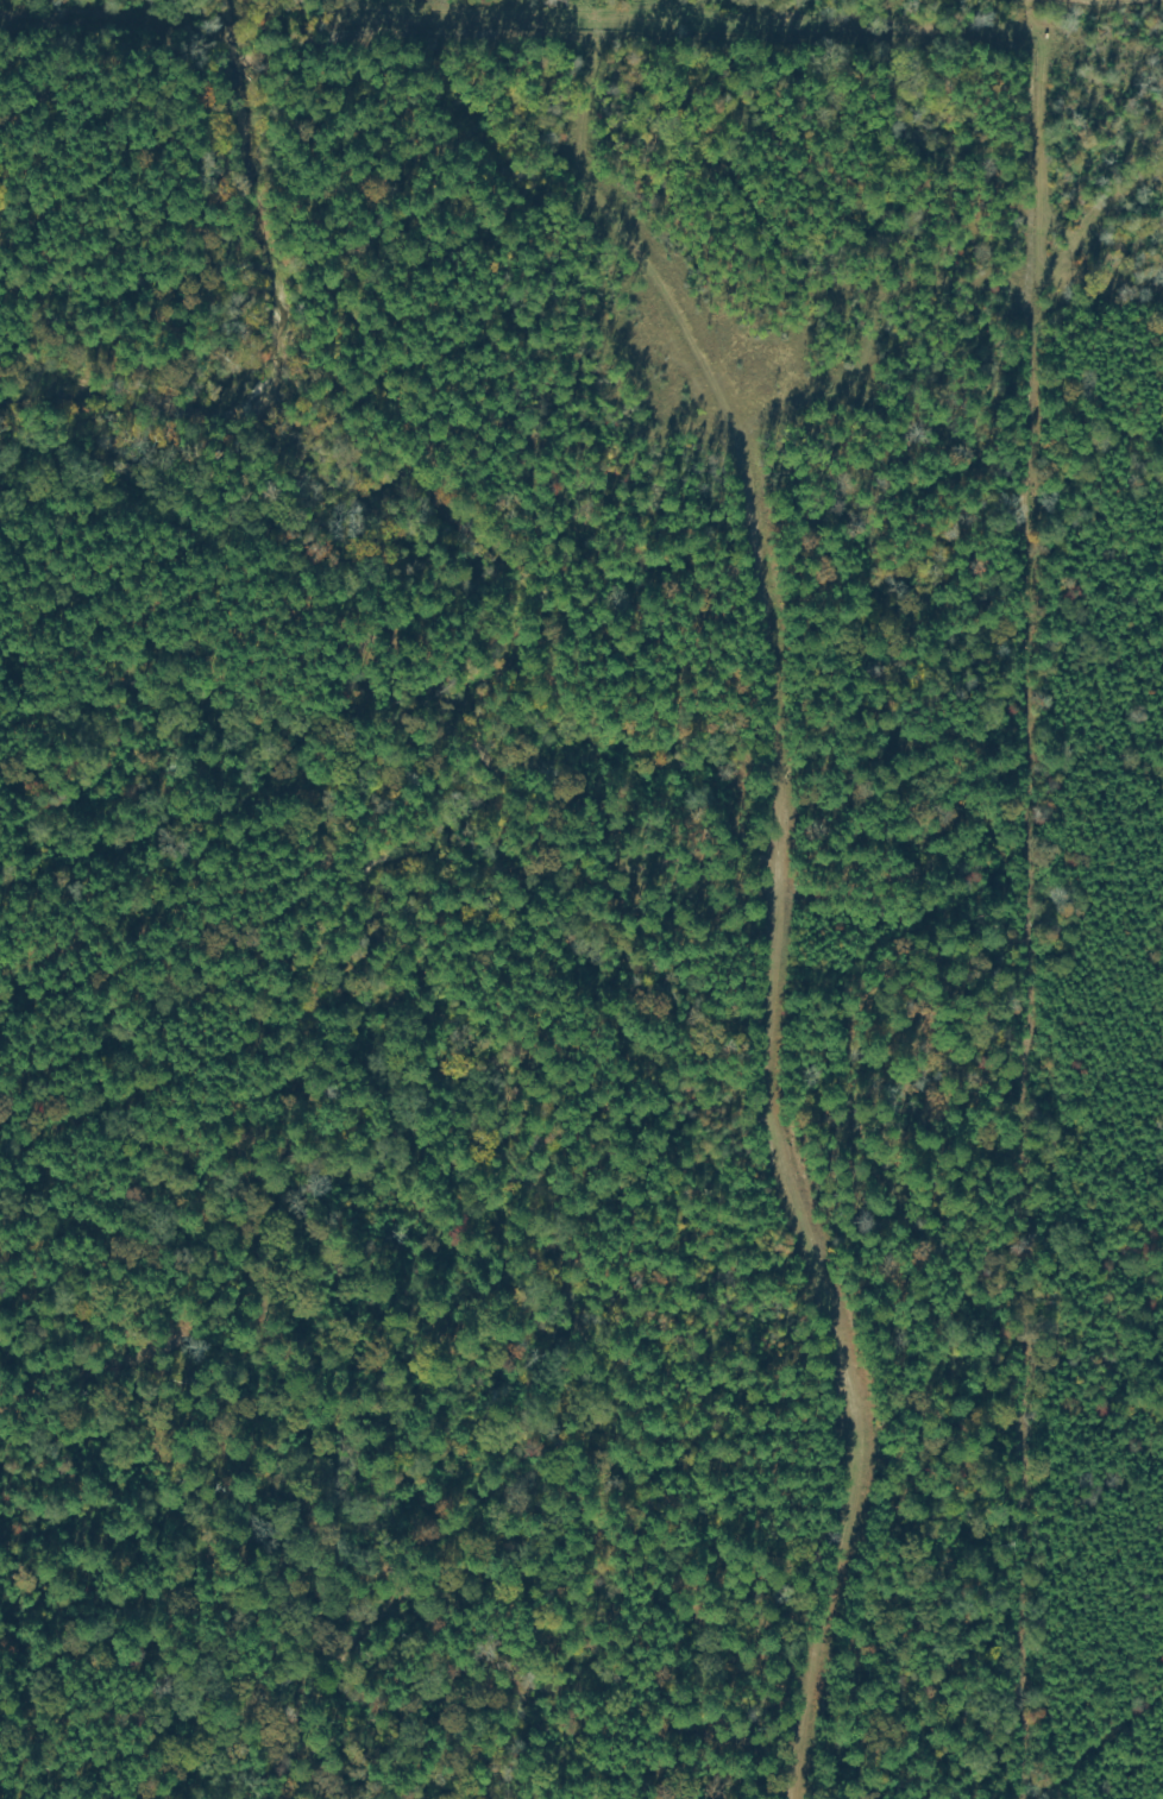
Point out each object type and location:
road: (782, 957)

